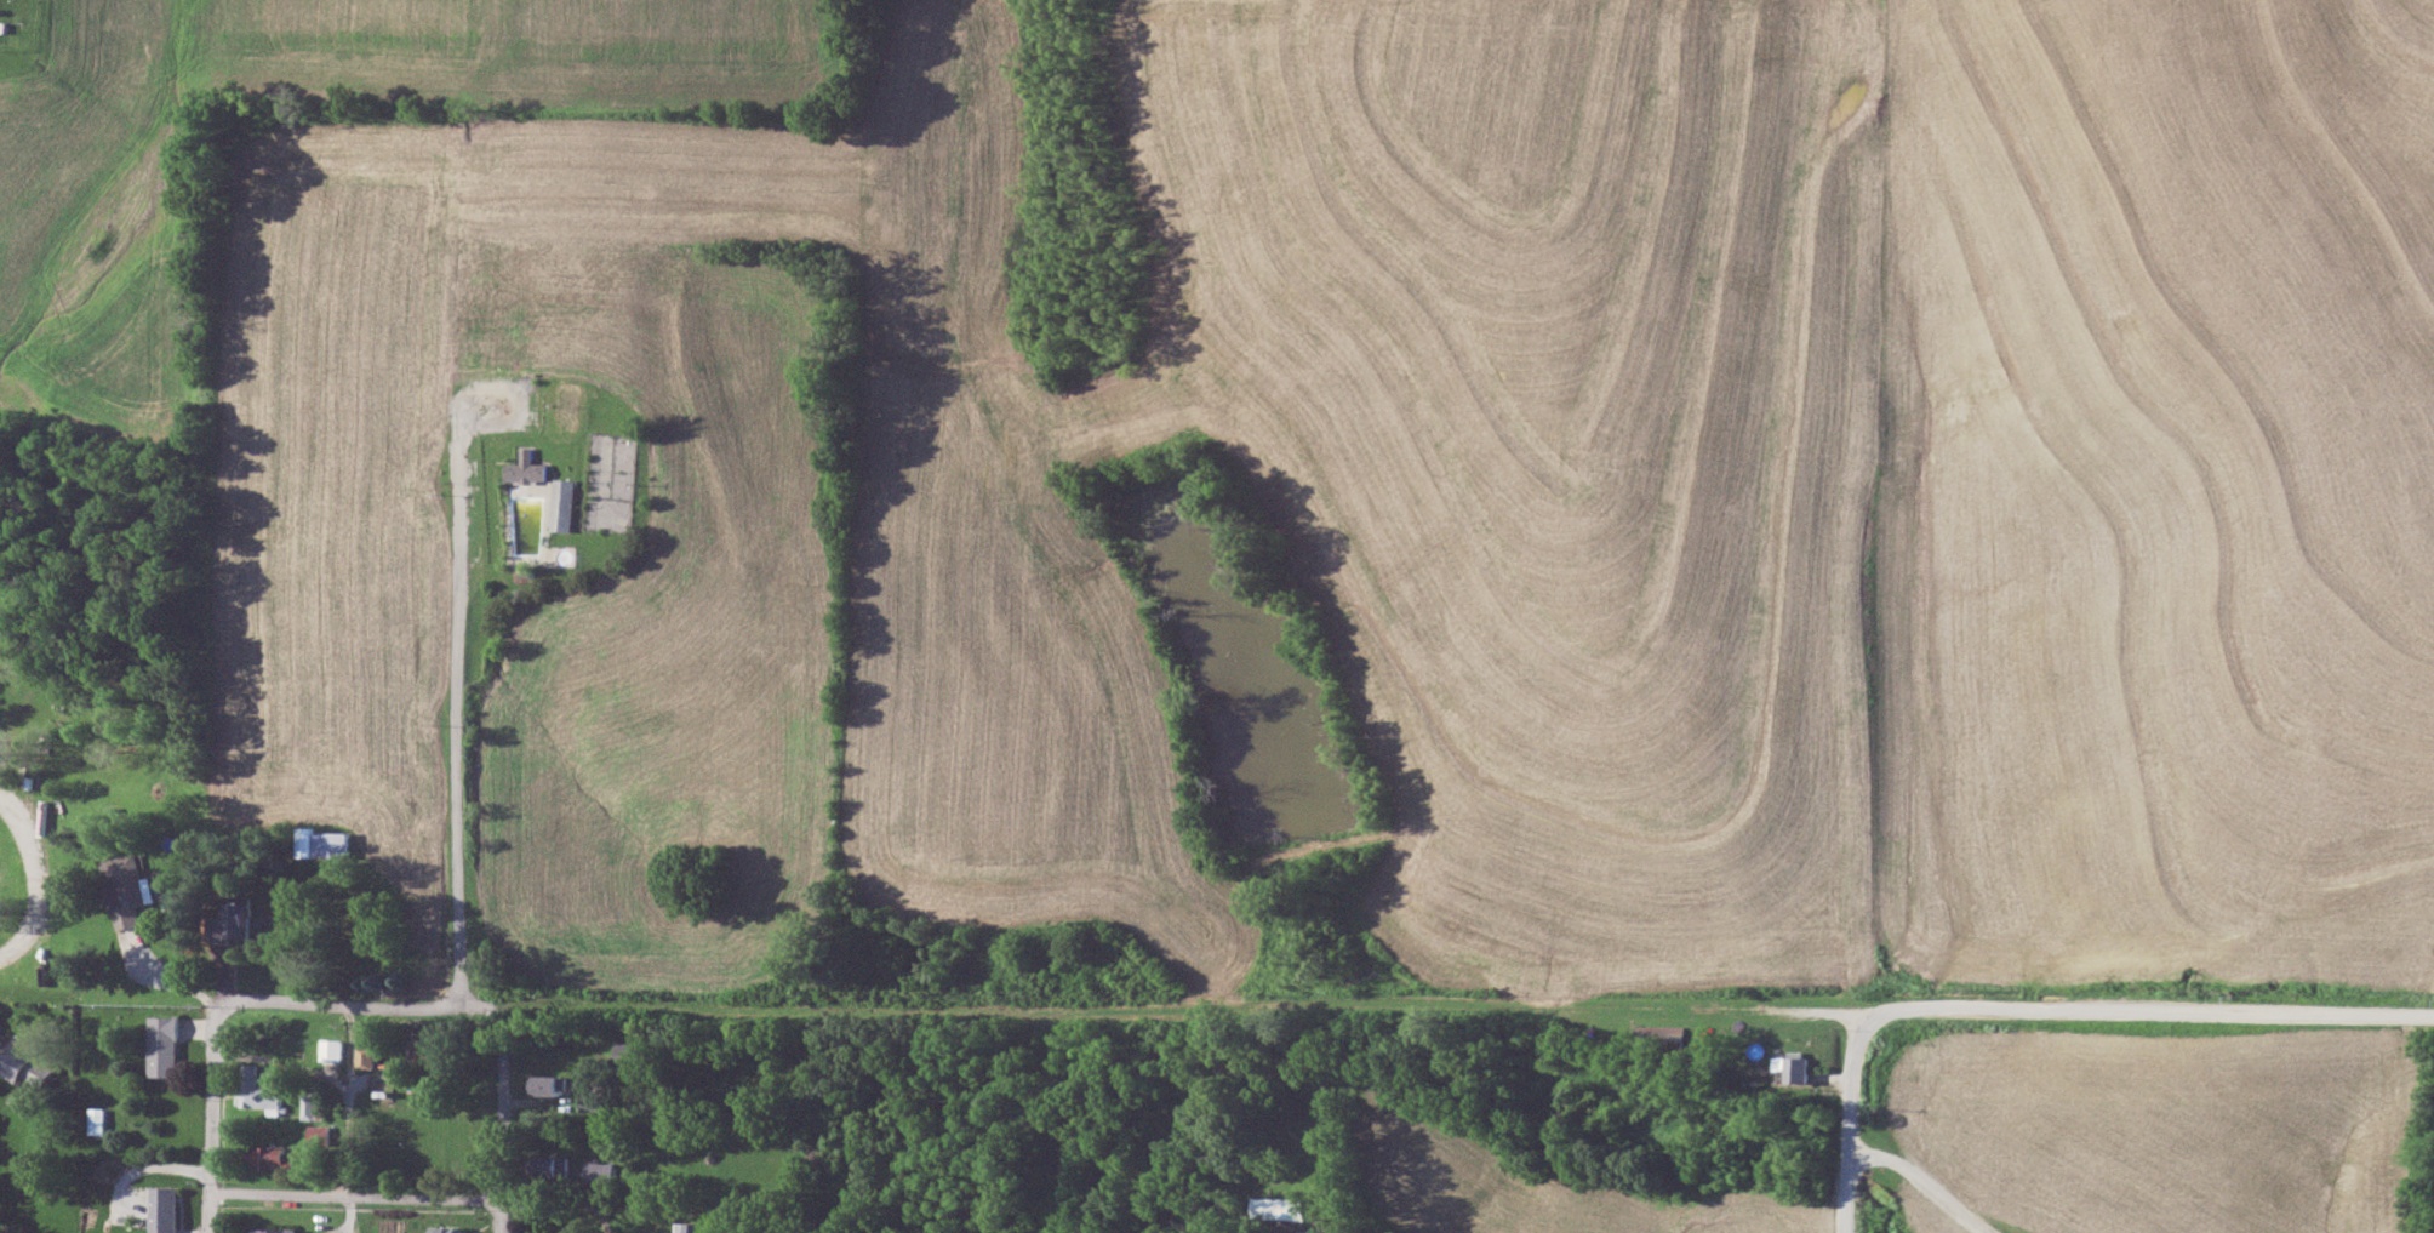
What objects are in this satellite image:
building: (526, 468)
building: (562, 504)
road: (464, 759)
building: (365, 843)
building: (322, 844)
building: (125, 887)
building: (241, 920)
road: (355, 932)
road: (1042, 1010)
road: (1899, 1011)
road: (2182, 1014)
building: (366, 1032)
building: (1670, 1033)
building: (164, 1045)
building: (333, 1048)
building: (638, 1051)
building: (433, 1052)
building: (368, 1056)
building: (24, 1064)
building: (1798, 1064)
building: (549, 1083)
building: (262, 1088)
building: (594, 1101)
building: (314, 1106)
road: (354, 1114)
road: (497, 1117)
building: (96, 1119)
road: (213, 1119)
road: (1847, 1121)
building: (320, 1134)
building: (274, 1155)
building: (554, 1163)
building: (601, 1171)
road: (1921, 1183)
road: (532, 1195)
building: (1280, 1206)
building: (166, 1209)
building: (1329, 1222)
building: (681, 1226)
road: (1280, 1226)
building: (447, 1228)
building: (278, 1229)

